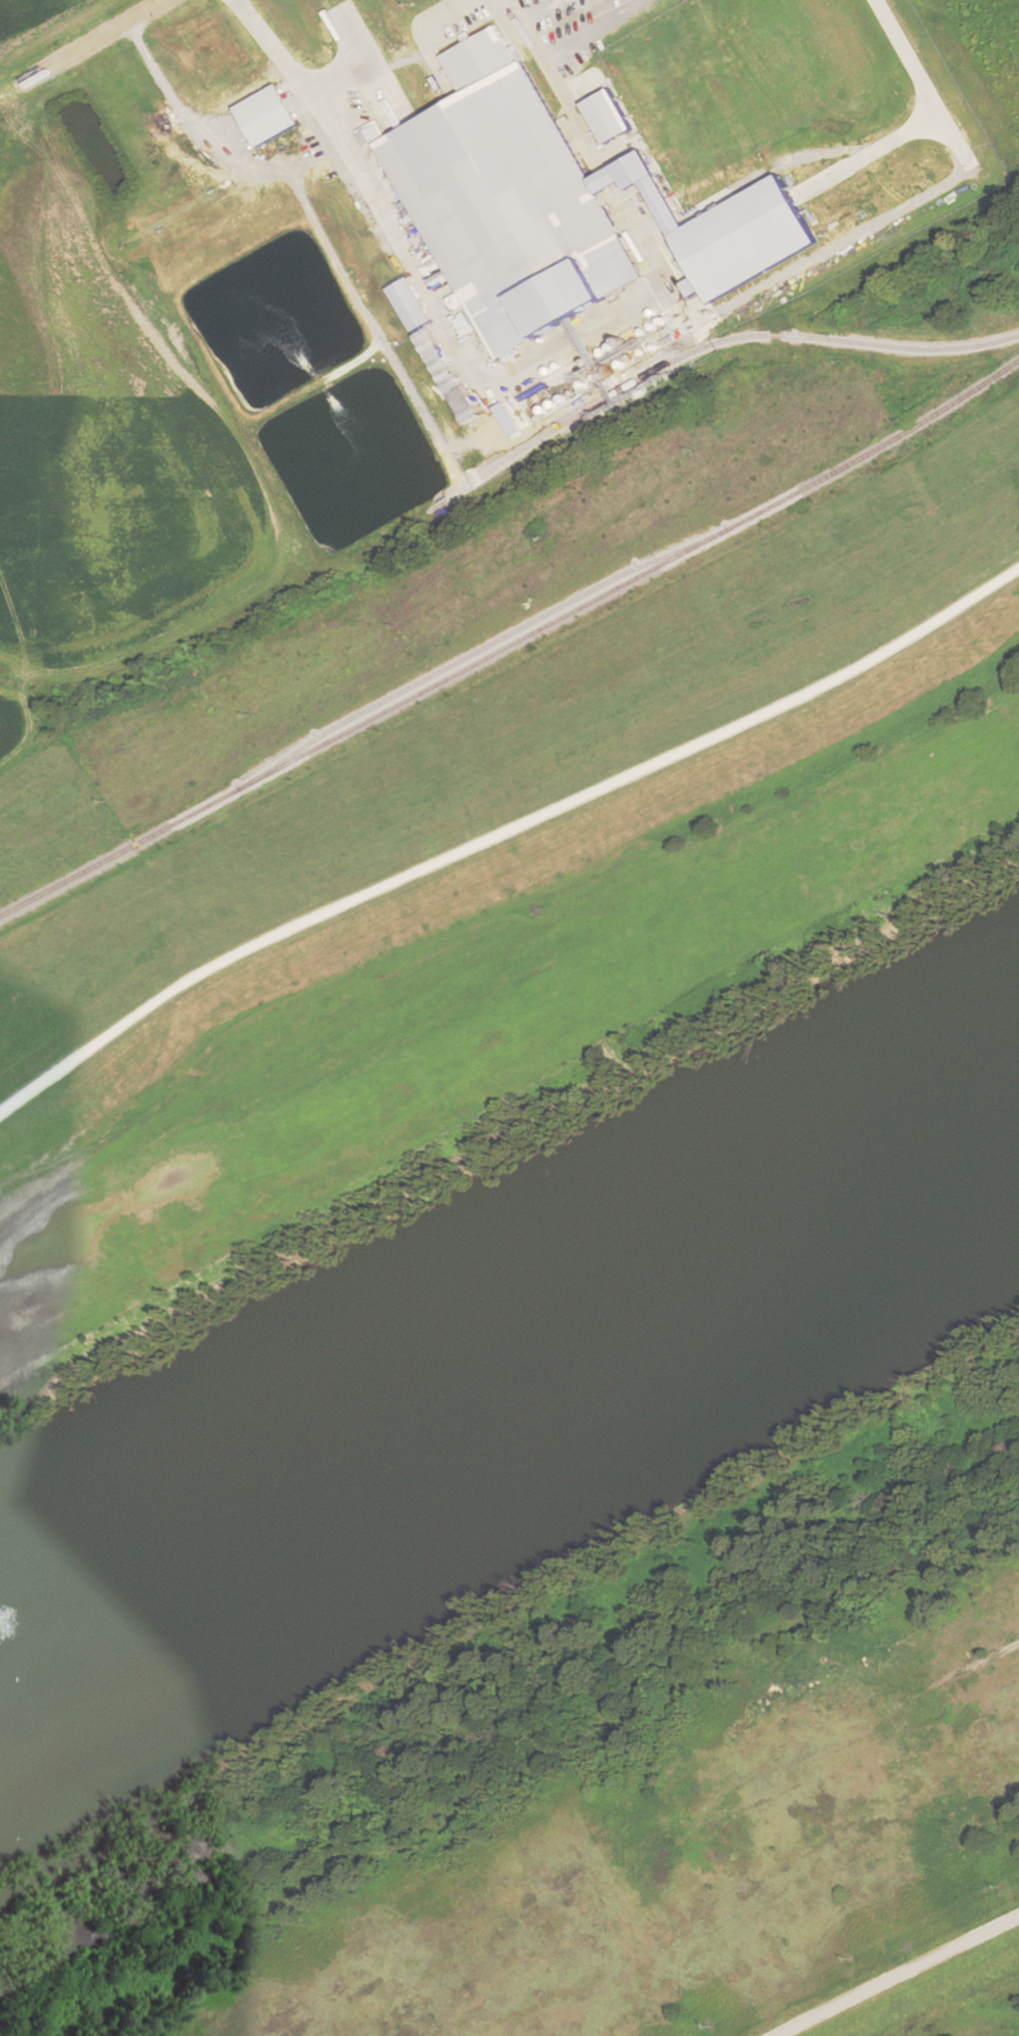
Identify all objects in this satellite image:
road: (92, 42)
road: (523, 373)
railway: (512, 644)
road: (500, 817)
road: (901, 1976)

